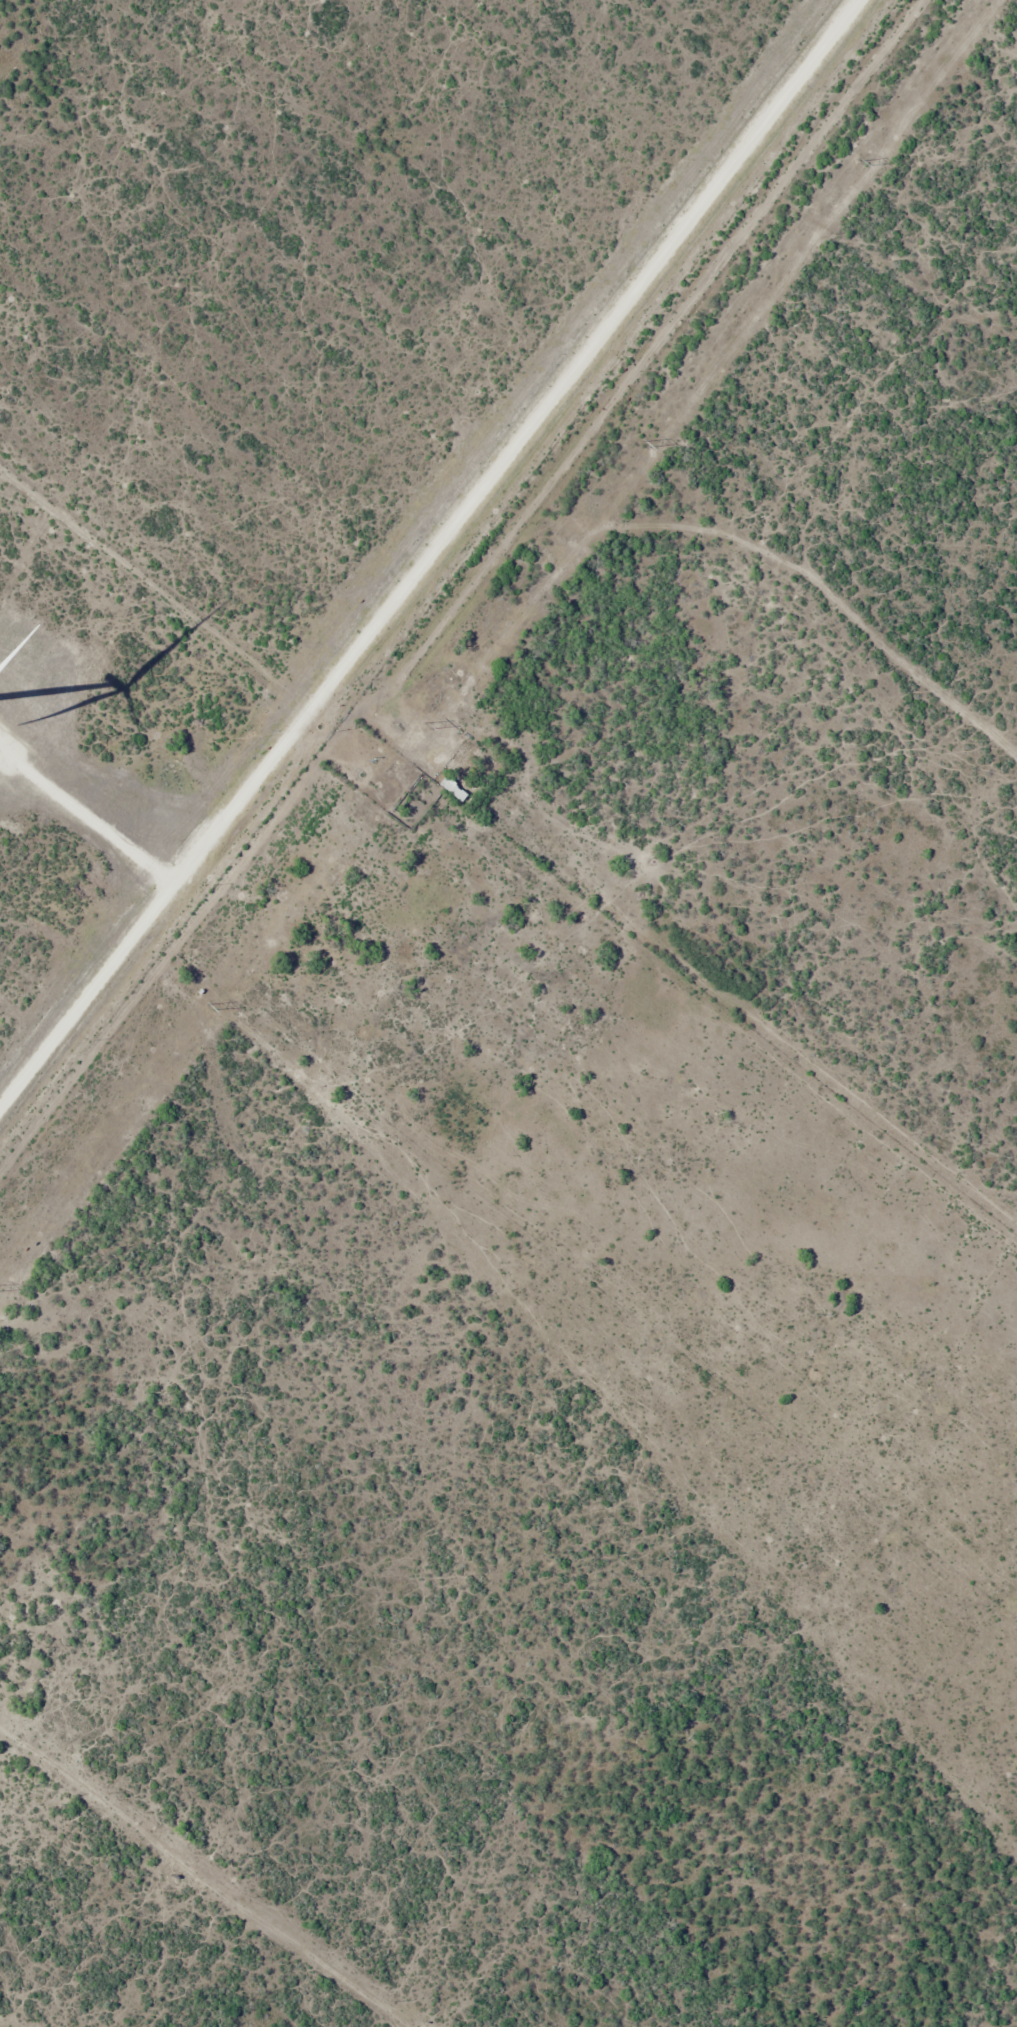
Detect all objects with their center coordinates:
power tower: (862, 164)
road: (645, 368)
power tower: (645, 444)
power tower: (427, 727)
building: (465, 752)
power tower: (210, 1007)

